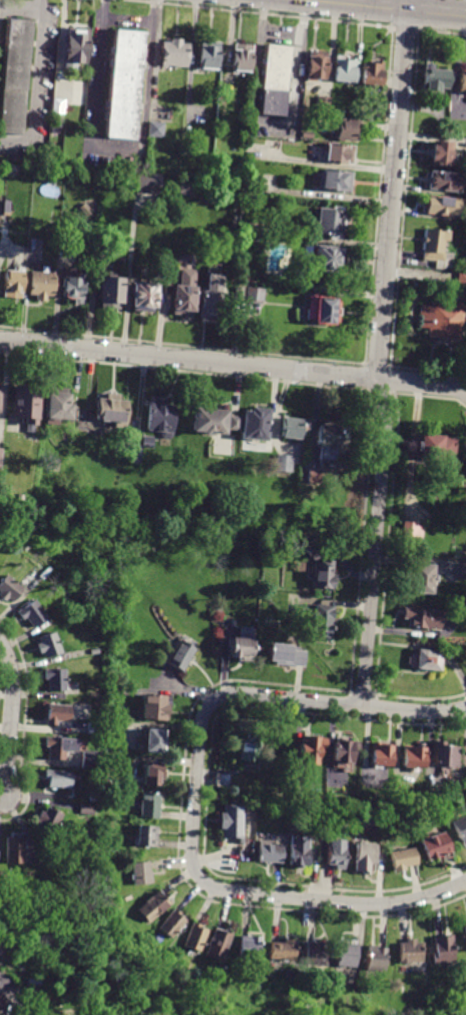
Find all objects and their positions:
road: (0, 3)
road: (400, 6)
road: (19, 7)
road: (125, 17)
building: (77, 45)
building: (174, 53)
building: (208, 55)
building: (241, 57)
building: (316, 65)
building: (344, 69)
building: (372, 72)
building: (14, 74)
building: (434, 80)
building: (275, 82)
building: (461, 82)
road: (35, 83)
building: (123, 86)
building: (322, 104)
building: (55, 119)
road: (272, 123)
building: (346, 129)
building: (155, 130)
building: (306, 135)
road: (115, 152)
building: (339, 153)
building: (438, 153)
building: (142, 181)
building: (336, 181)
building: (443, 181)
building: (204, 184)
building: (251, 185)
building: (439, 206)
building: (8, 208)
building: (86, 210)
building: (330, 222)
building: (247, 230)
building: (436, 248)
building: (327, 258)
building: (460, 279)
building: (12, 283)
building: (42, 285)
building: (74, 289)
building: (112, 292)
building: (185, 293)
building: (240, 293)
building: (145, 295)
building: (254, 295)
building: (213, 296)
building: (323, 310)
building: (442, 319)
road: (379, 353)
road: (188, 359)
road: (421, 382)
building: (28, 405)
building: (60, 407)
building: (112, 411)
building: (162, 416)
building: (210, 421)
building: (235, 423)
building: (260, 426)
building: (292, 427)
building: (148, 441)
building: (328, 441)
building: (436, 450)
building: (137, 454)
building: (0, 458)
building: (284, 463)
building: (314, 476)
building: (411, 529)
building: (262, 543)
building: (304, 549)
building: (463, 572)
building: (325, 575)
building: (419, 578)
building: (8, 589)
building: (31, 613)
building: (422, 618)
building: (321, 621)
building: (118, 622)
building: (48, 645)
building: (242, 650)
building: (93, 652)
building: (182, 654)
building: (287, 655)
building: (424, 660)
building: (54, 679)
road: (240, 693)
building: (94, 696)
building: (158, 707)
building: (56, 713)
road: (11, 718)
building: (88, 728)
building: (155, 740)
building: (249, 744)
building: (58, 747)
building: (309, 750)
building: (339, 752)
building: (379, 753)
building: (443, 755)
building: (412, 757)
building: (89, 760)
building: (154, 774)
building: (62, 780)
building: (225, 780)
building: (303, 792)
building: (93, 798)
building: (151, 805)
building: (86, 809)
building: (48, 820)
building: (233, 820)
building: (461, 829)
building: (147, 836)
building: (436, 846)
building: (298, 850)
building: (15, 851)
building: (269, 852)
building: (336, 853)
building: (364, 857)
building: (402, 859)
building: (141, 873)
building: (2, 875)
road: (341, 901)
building: (116, 906)
building: (153, 907)
building: (48, 920)
building: (172, 924)
building: (465, 931)
building: (195, 937)
building: (218, 945)
building: (249, 948)
building: (283, 950)
building: (443, 950)
building: (410, 952)
building: (316, 954)
building: (344, 955)
building: (376, 958)
building: (33, 984)
road: (3, 987)

